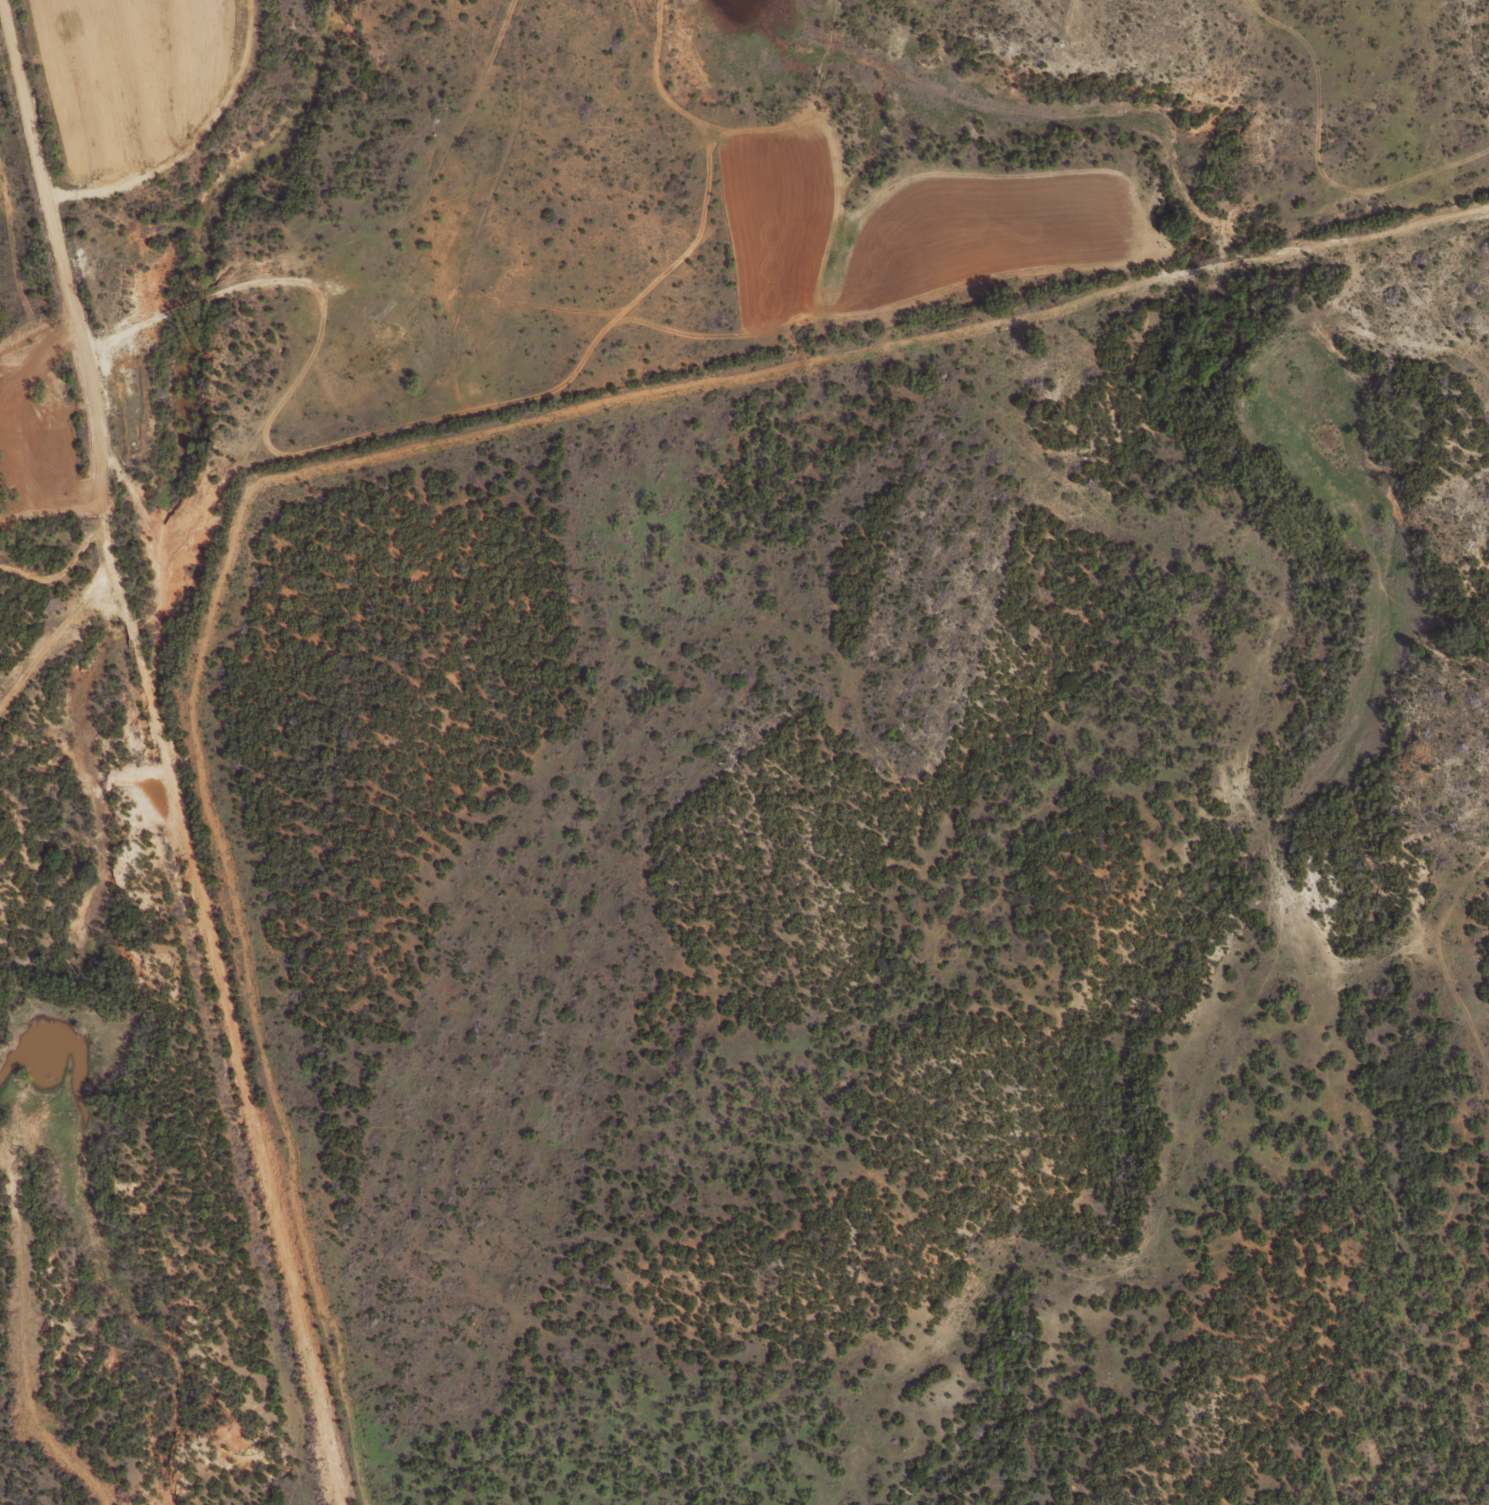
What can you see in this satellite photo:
road: (50, 234)
road: (323, 304)
road: (894, 771)
road: (220, 980)

